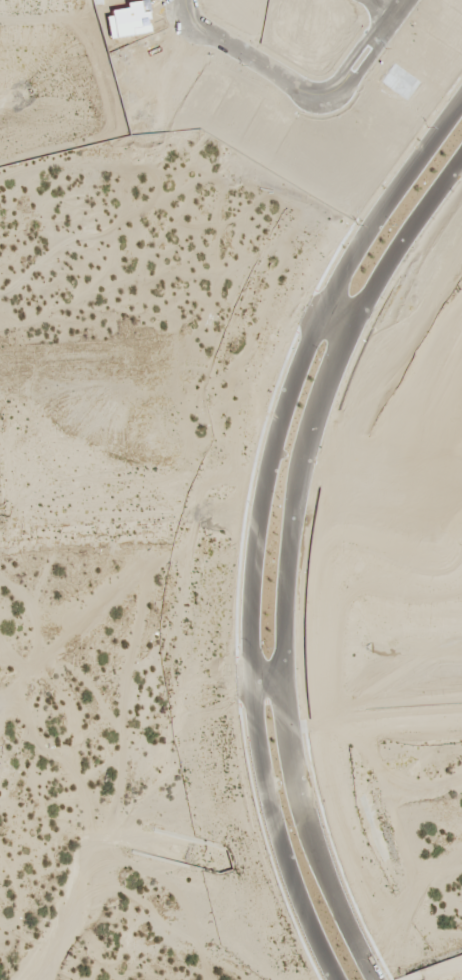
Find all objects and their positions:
road: (391, 5)
road: (183, 10)
road: (308, 98)
road: (332, 328)
road: (255, 522)
road: (284, 555)
road: (265, 686)

